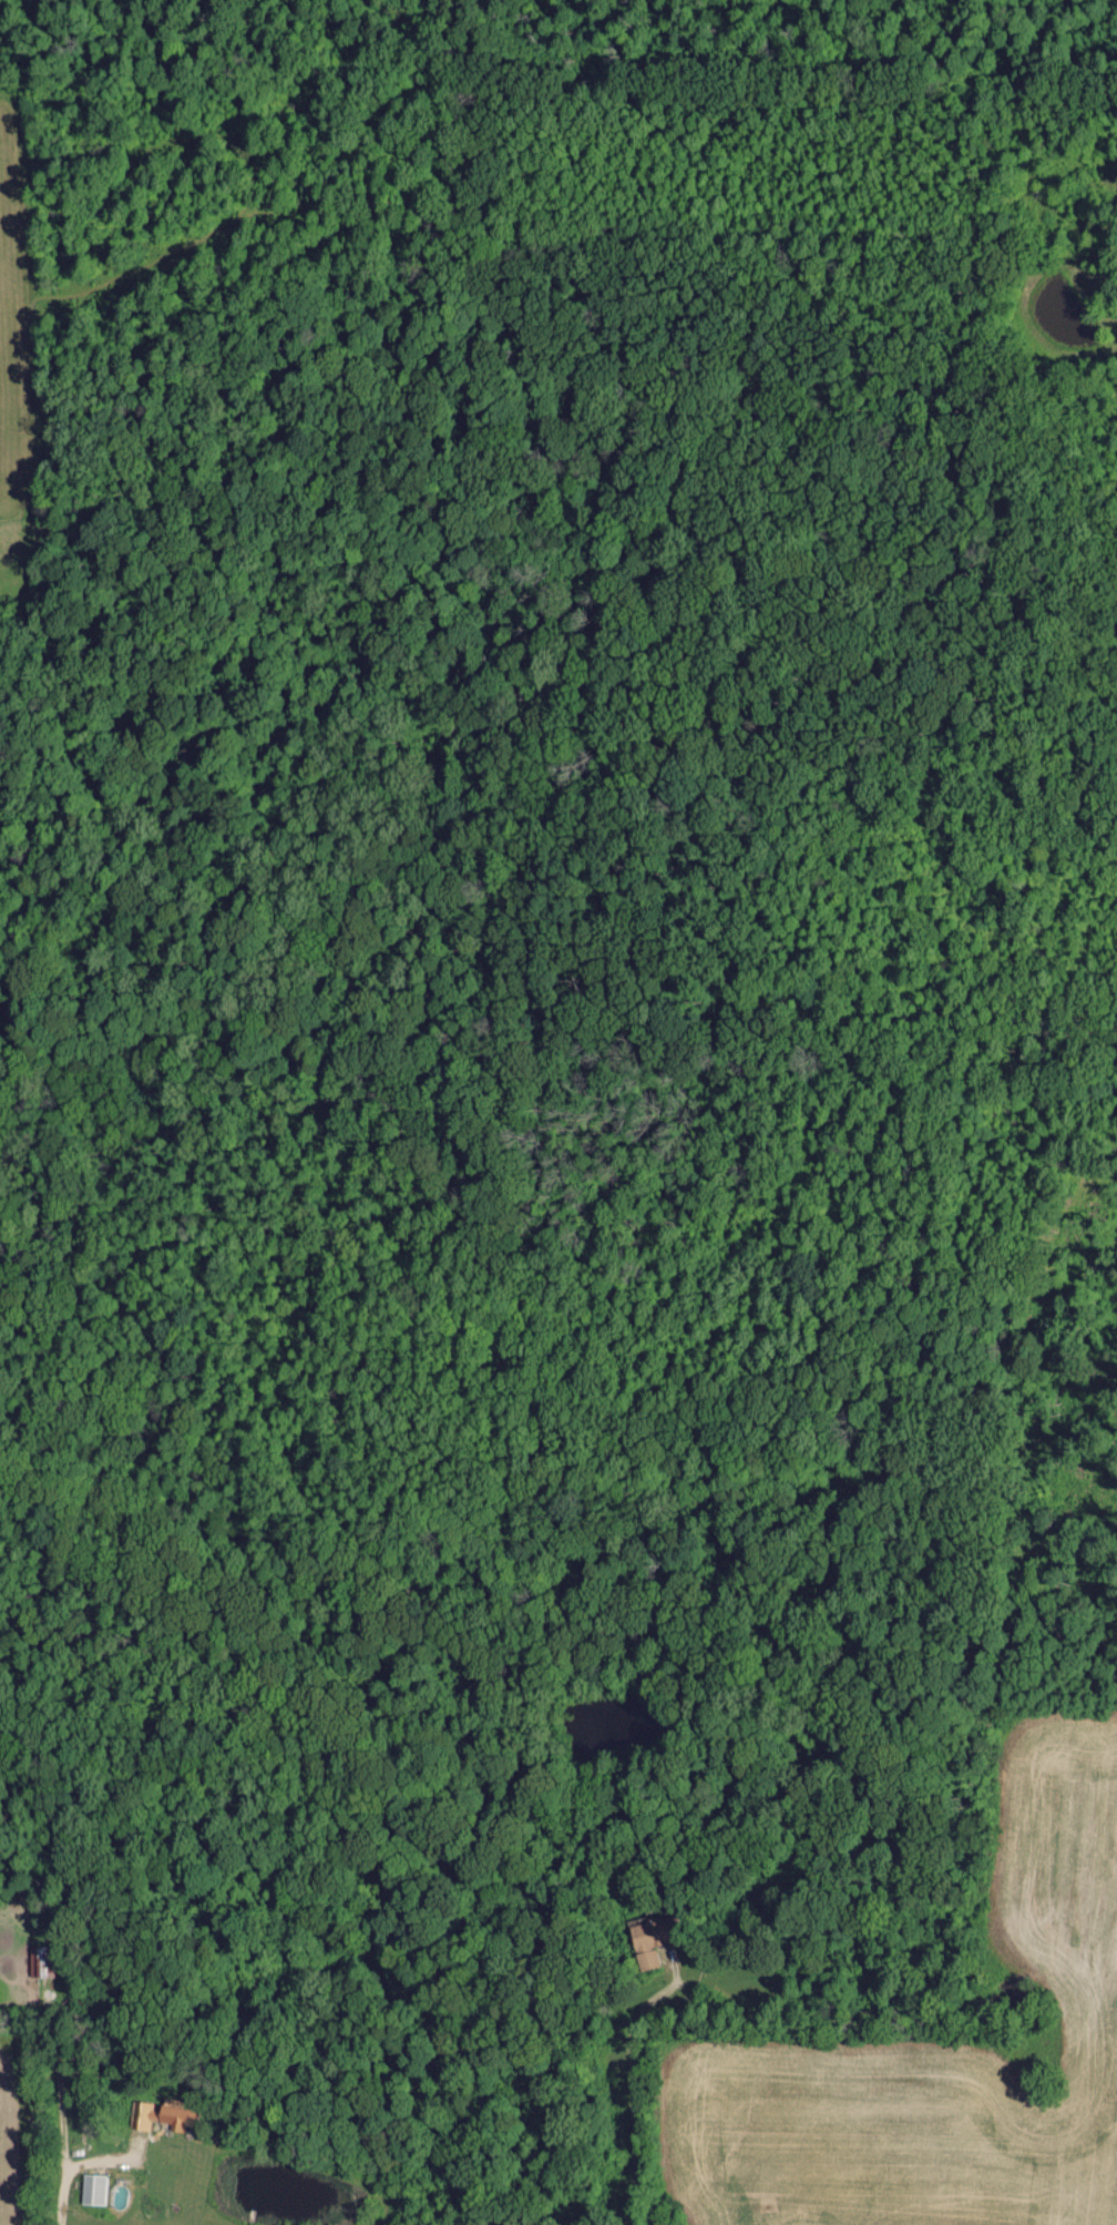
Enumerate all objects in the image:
building: (646, 1941)
building: (40, 1960)
building: (161, 2115)
building: (91, 2187)

